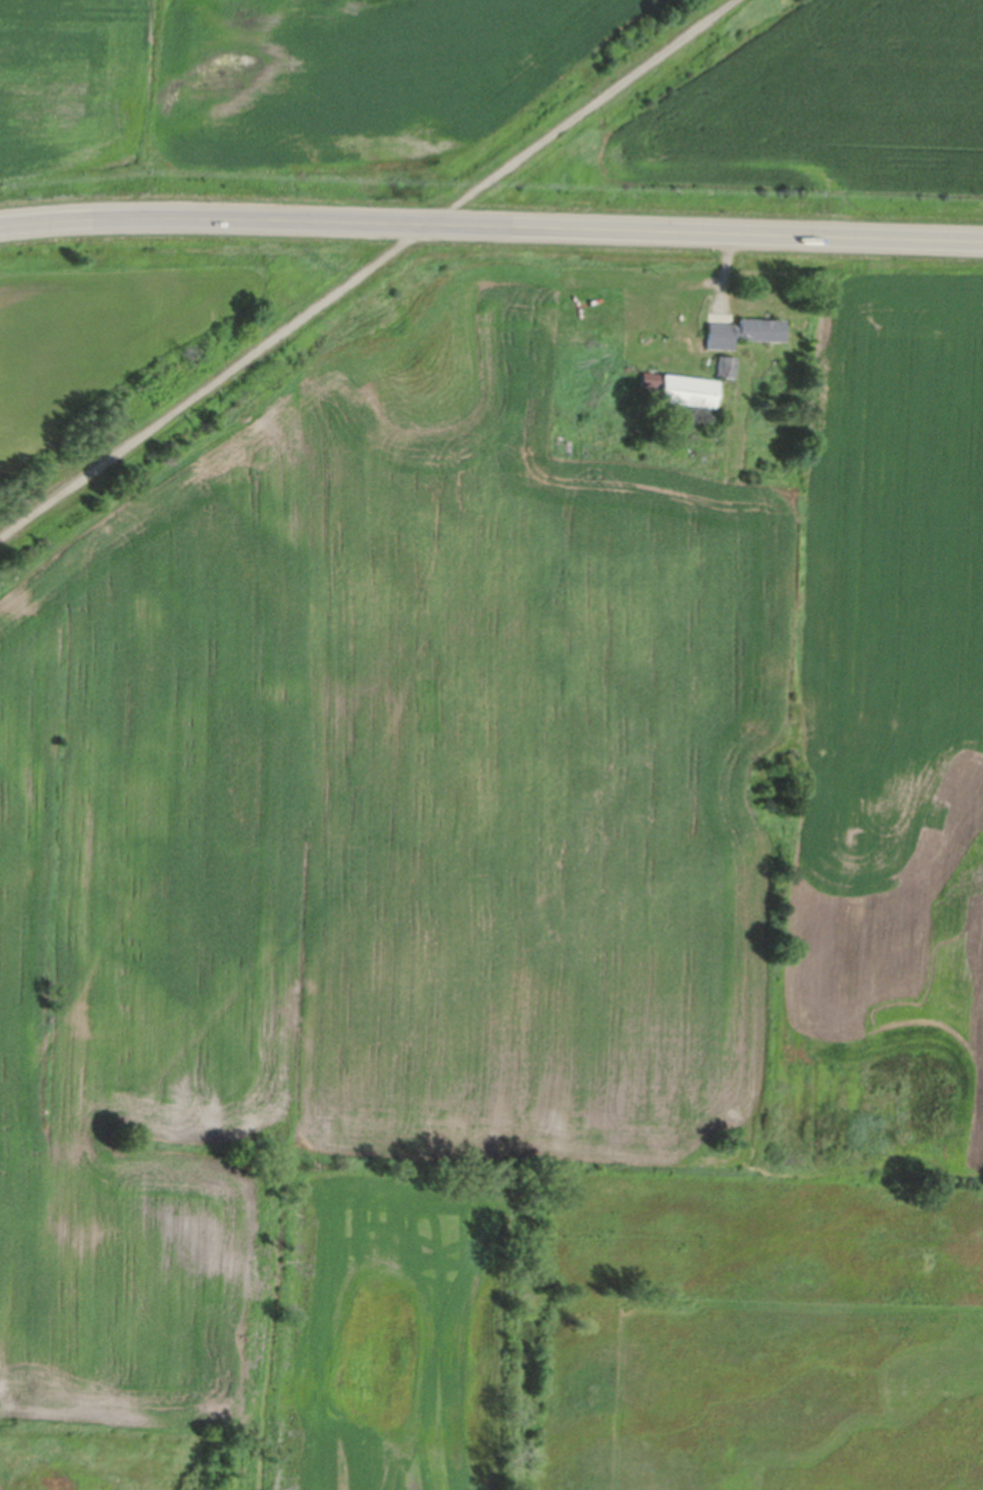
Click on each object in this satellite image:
road: (491, 225)
road: (366, 268)
building: (742, 335)
building: (725, 369)
building: (681, 392)
crop: (501, 945)

